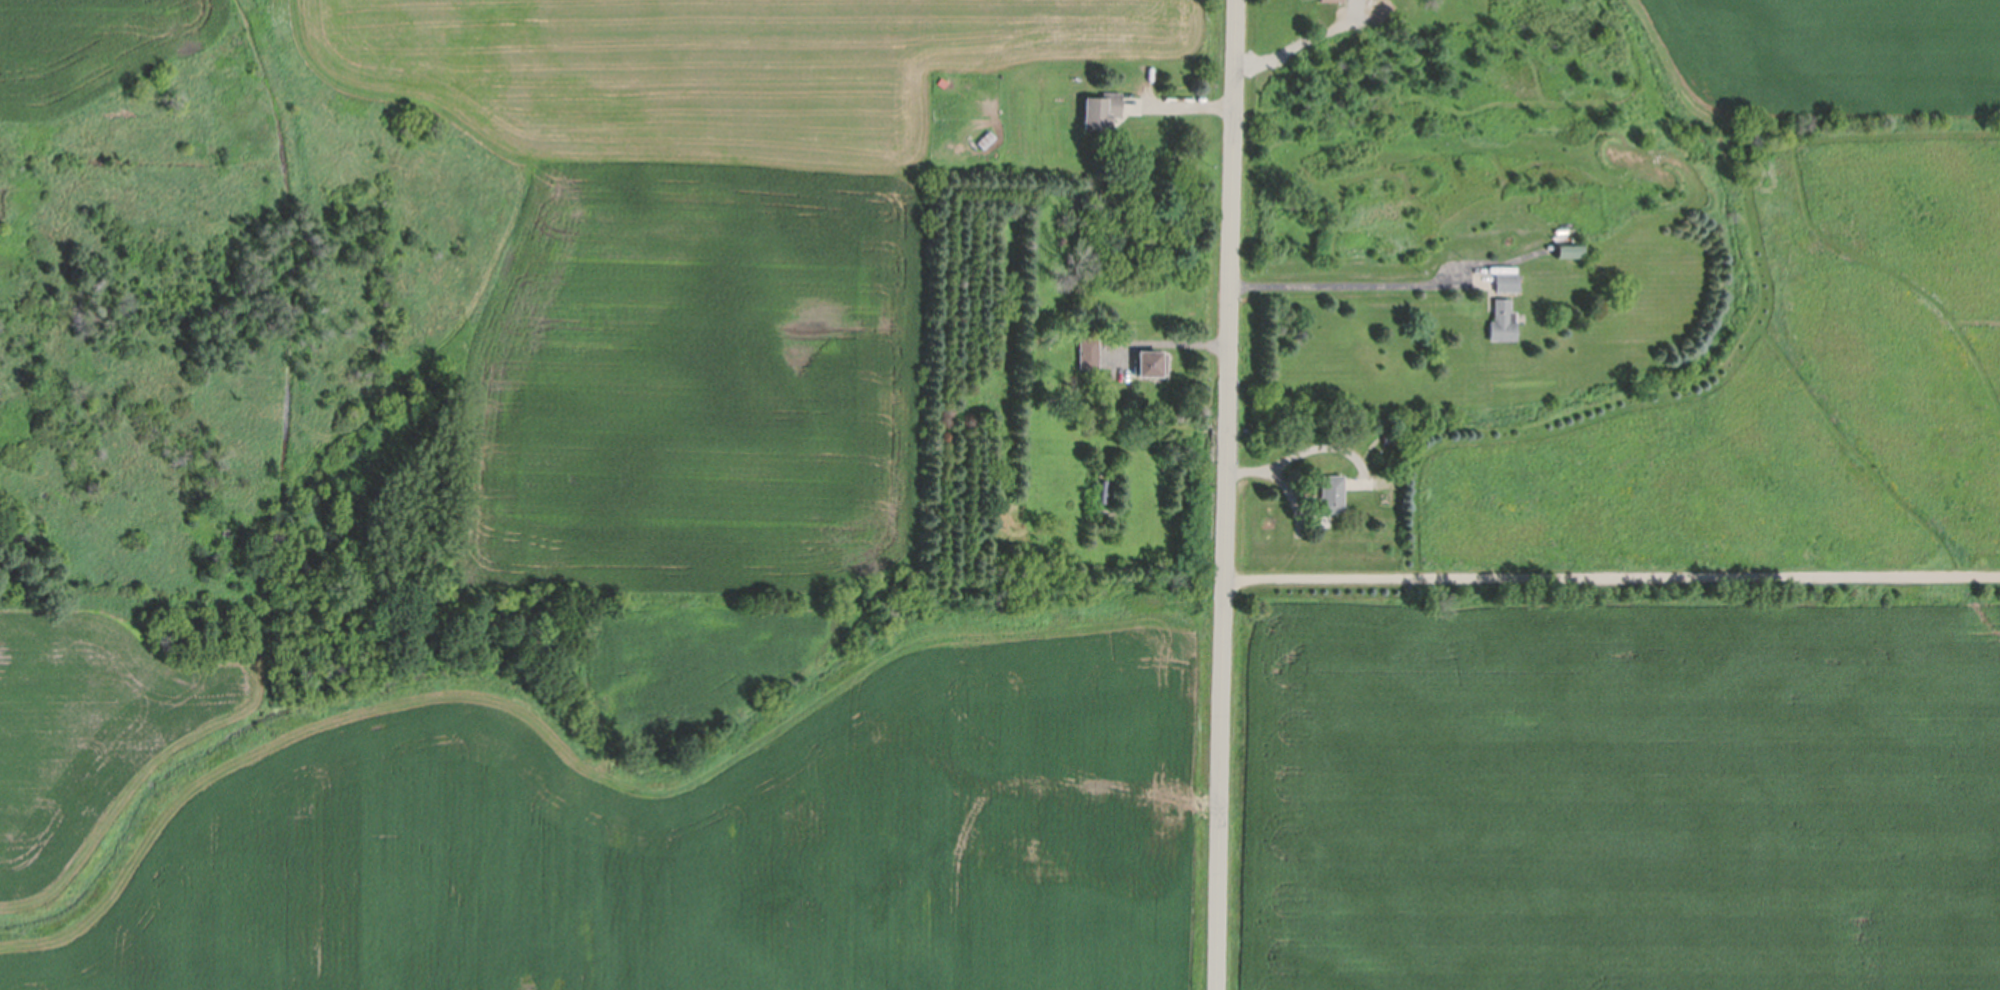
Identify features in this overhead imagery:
building: (1329, 2)
road: (1300, 41)
building: (941, 87)
road: (1180, 105)
building: (1102, 113)
building: (986, 141)
building: (1569, 251)
road: (1356, 284)
building: (1505, 285)
building: (1501, 324)
road: (1170, 343)
building: (1089, 354)
building: (1151, 367)
building: (1393, 440)
road: (1296, 455)
building: (1101, 480)
road: (1229, 495)
building: (1331, 496)
road: (1613, 574)

